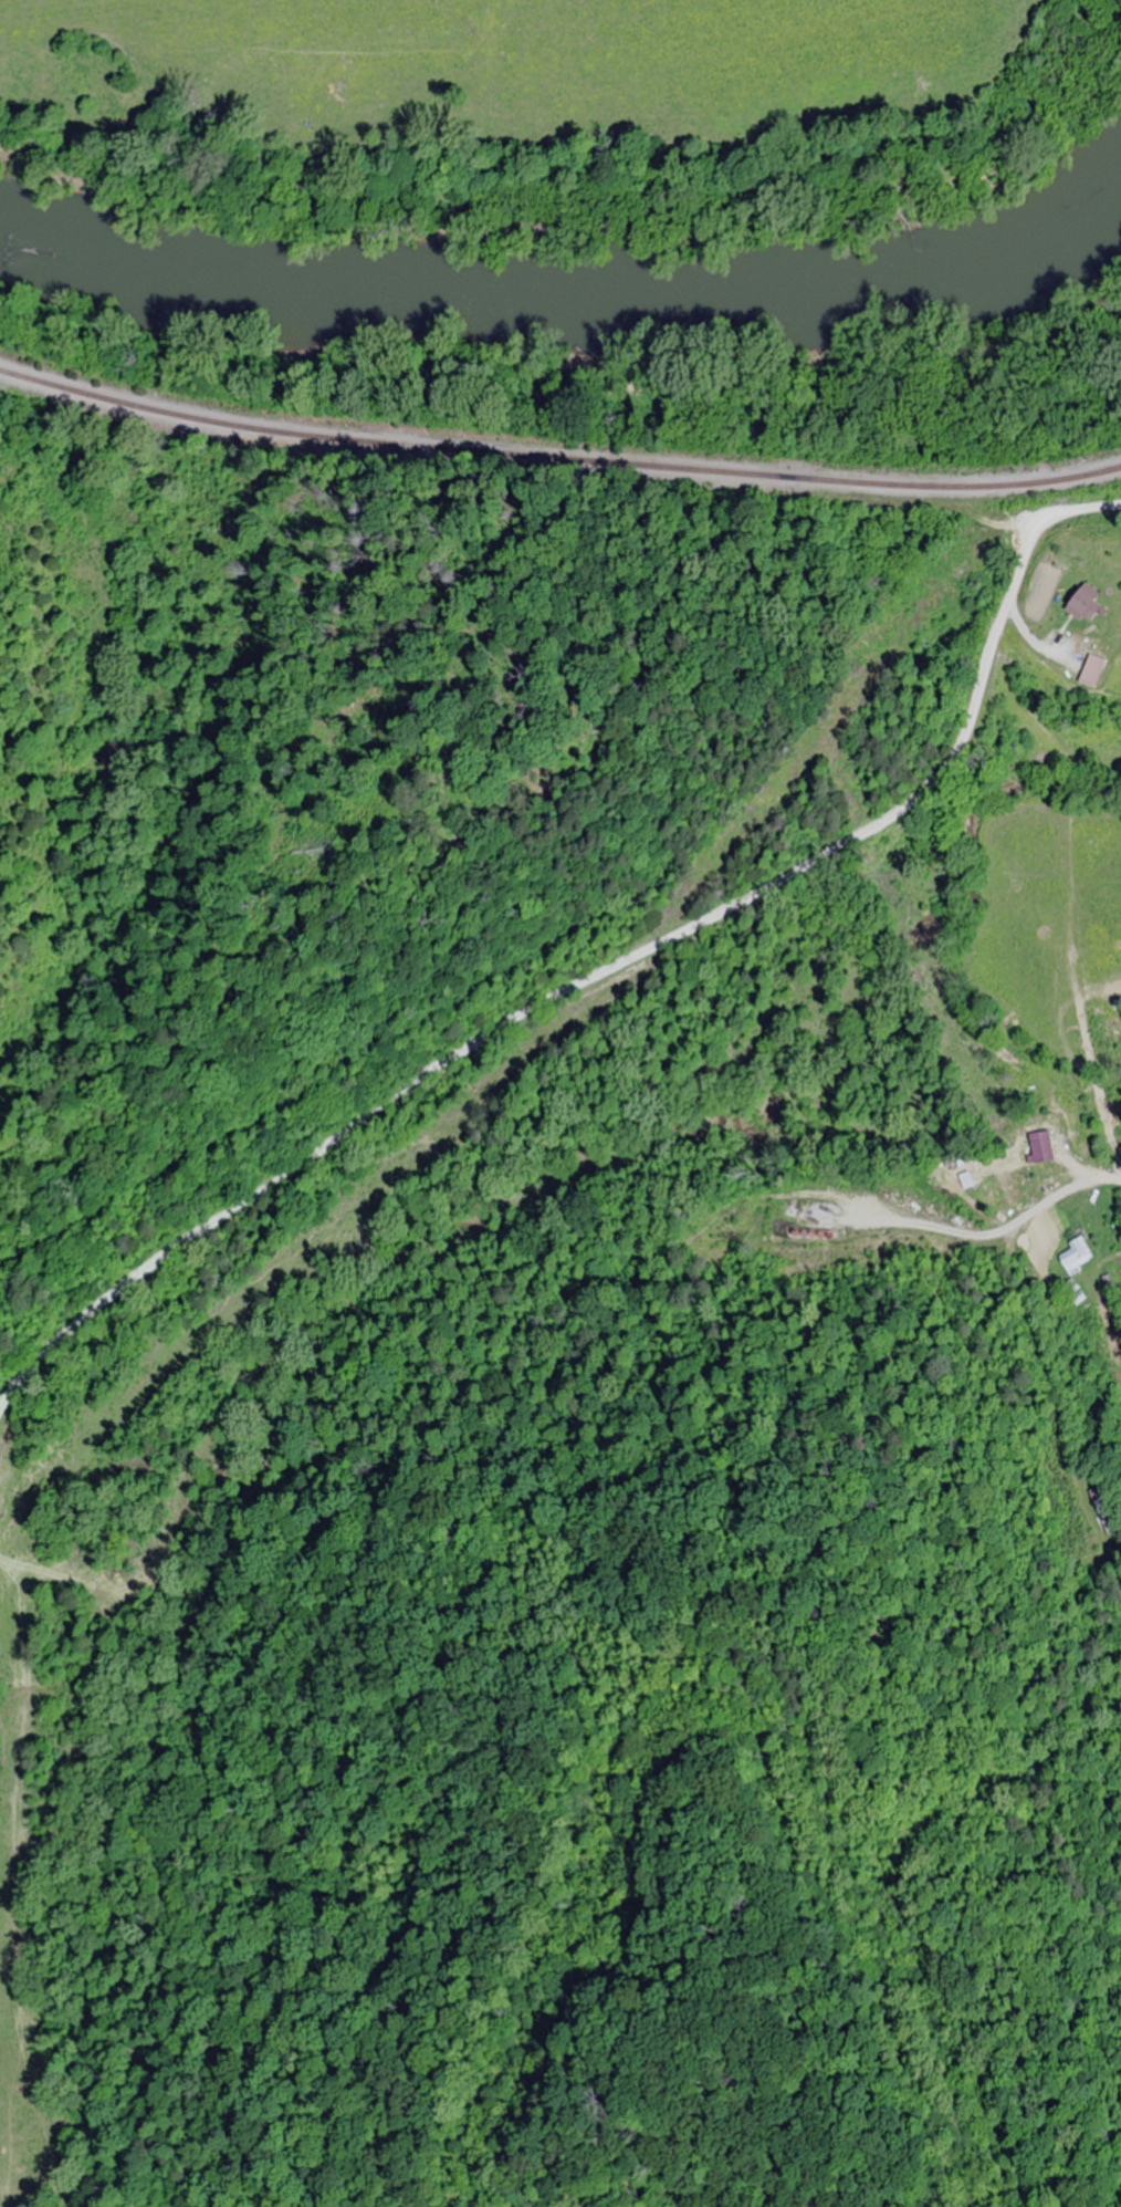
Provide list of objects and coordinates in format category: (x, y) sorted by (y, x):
river: (578, 312)
railway: (557, 456)
building: (1079, 603)
building: (1090, 670)
road: (598, 974)
building: (1034, 1144)
building: (1073, 1256)

